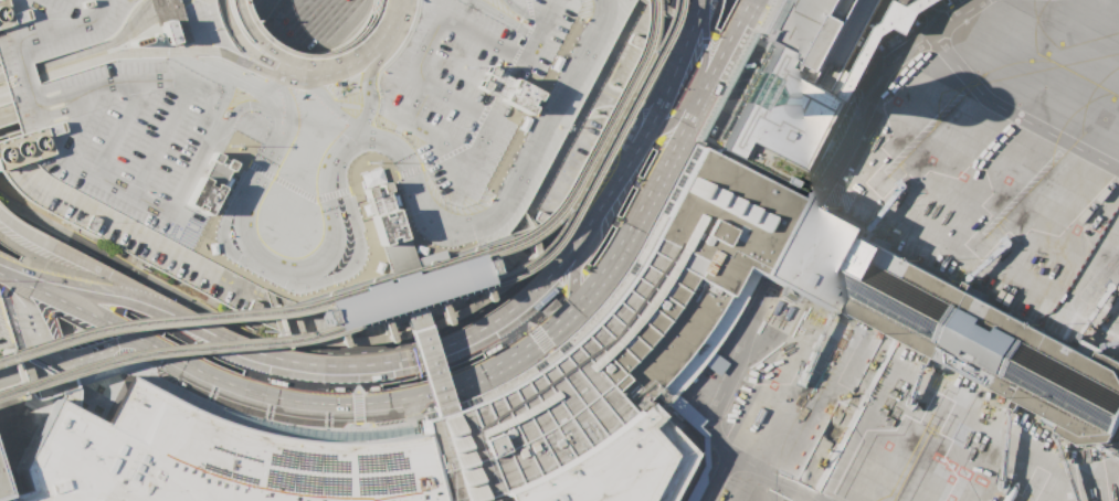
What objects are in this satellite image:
road: (147, 0)
road: (179, 1)
road: (602, 2)
road: (157, 6)
road: (399, 6)
road: (165, 10)
road: (52, 11)
road: (745, 11)
road: (930, 11)
road: (136, 12)
road: (521, 13)
road: (499, 18)
road: (140, 22)
road: (535, 31)
road: (252, 33)
road: (241, 36)
road: (479, 38)
road: (96, 44)
road: (423, 45)
road: (707, 51)
road: (234, 56)
road: (194, 72)
road: (715, 72)
road: (367, 79)
airport terminal: (793, 79)
building: (793, 79)
road: (873, 82)
road: (2, 90)
road: (316, 90)
airport terminal: (846, 95)
building: (846, 95)
road: (450, 96)
road: (609, 96)
road: (657, 96)
road: (33, 98)
road: (553, 102)
road: (265, 104)
road: (636, 106)
road: (233, 110)
road: (635, 110)
road: (6, 111)
road: (1013, 116)
road: (673, 120)
road: (349, 121)
building: (305, 122)
parking lot: (305, 122)
road: (118, 125)
road: (8, 126)
road: (416, 131)
road: (160, 135)
road: (377, 136)
road: (66, 140)
road: (479, 140)
road: (198, 146)
road: (626, 147)
road: (445, 153)
road: (250, 182)
road: (130, 191)
road: (10, 209)
airport apron: (993, 210)
road: (336, 213)
road: (10, 214)
road: (431, 223)
road: (3, 244)
road: (3, 248)
road: (77, 249)
airport: (559, 250)
road: (73, 256)
road: (33, 260)
railway: (479, 260)
road: (10, 271)
railway: (395, 277)
road: (572, 280)
road: (107, 281)
road: (14, 289)
building: (407, 291)
airport terminal: (882, 291)
road: (408, 295)
railway: (412, 303)
road: (499, 309)
road: (577, 311)
road: (102, 320)
road: (125, 341)
road: (447, 348)
road: (548, 350)
road: (477, 355)
road: (53, 356)
road: (722, 366)
airport terminal: (4, 375)
building: (4, 375)
airport terminal: (588, 375)
building: (588, 375)
building: (41, 382)
road: (278, 399)
airport apron: (906, 428)
road: (718, 477)
road: (777, 477)
airport terminal: (1, 497)
building: (1, 497)

